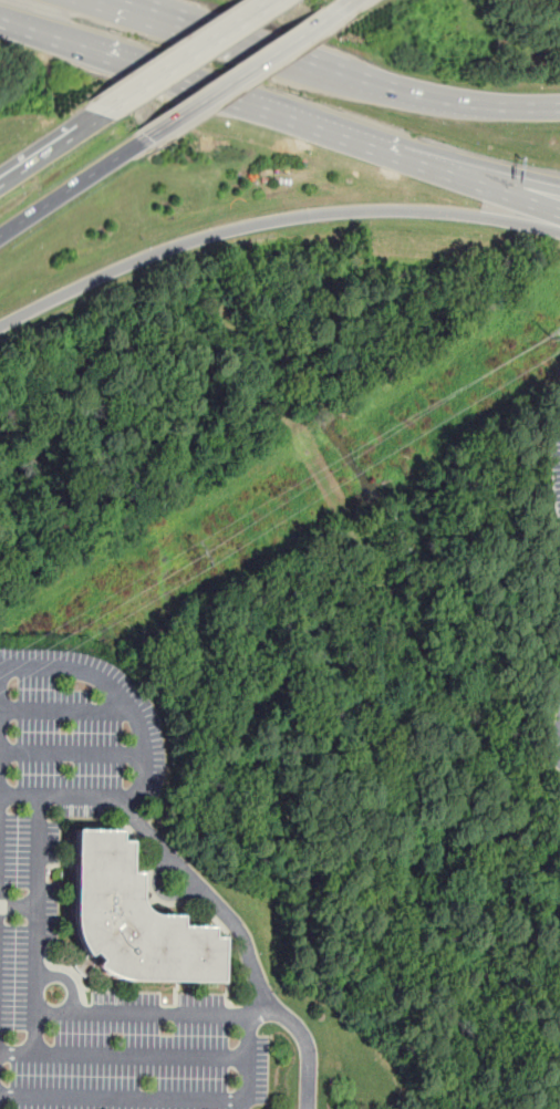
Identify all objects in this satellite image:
road: (342, 7)
road: (258, 41)
road: (185, 56)
road: (236, 79)
road: (194, 87)
road: (470, 103)
road: (50, 147)
road: (474, 169)
road: (474, 183)
road: (70, 188)
road: (270, 219)
power tower: (304, 487)
road: (115, 695)
road: (65, 711)
parking lot: (74, 724)
road: (554, 725)
road: (71, 754)
road: (206, 894)
building: (128, 919)
road: (35, 924)
road: (65, 980)
road: (142, 1012)
parking lot: (103, 1013)
road: (123, 1055)
road: (174, 1096)

